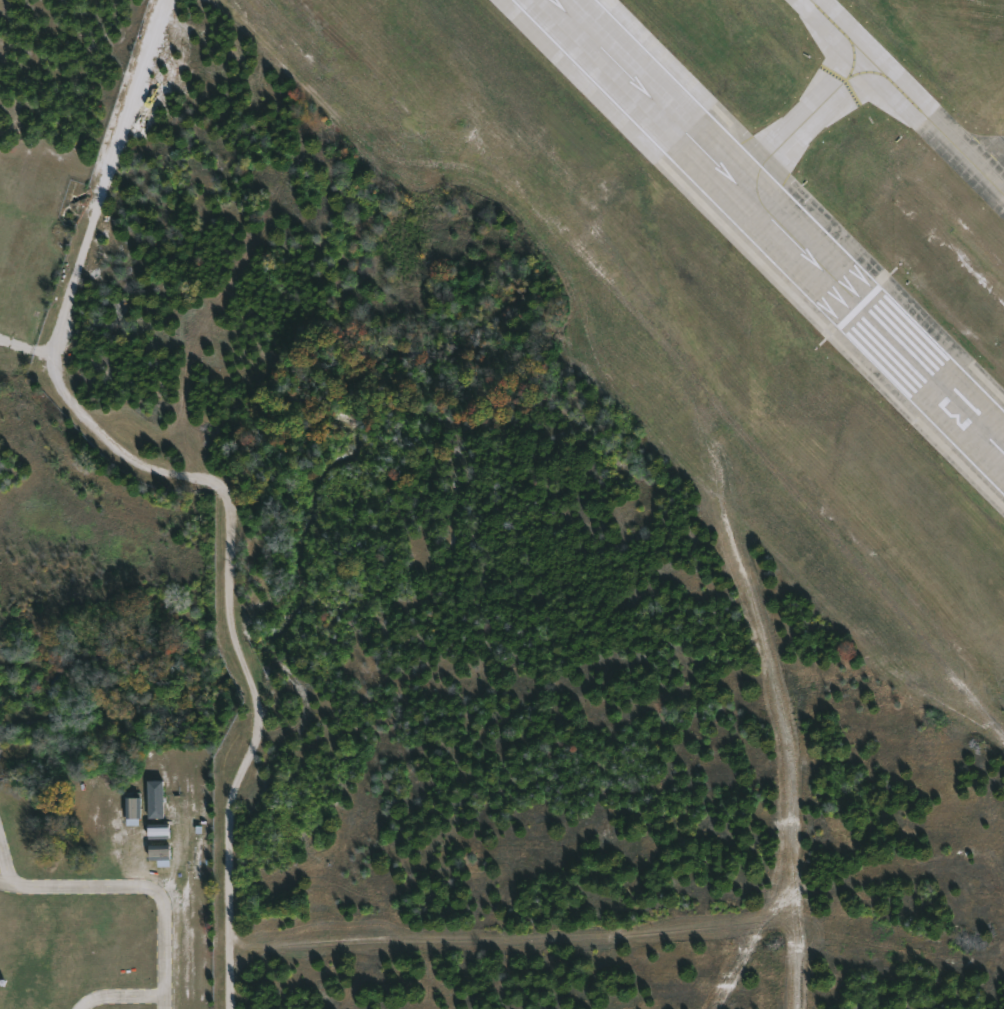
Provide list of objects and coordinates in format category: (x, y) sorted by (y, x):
airport taxiway: (874, 95)
airport runway: (851, 297)
airport: (579, 485)
building: (154, 800)
building: (133, 811)
building: (158, 831)
building: (158, 852)
road: (138, 887)

